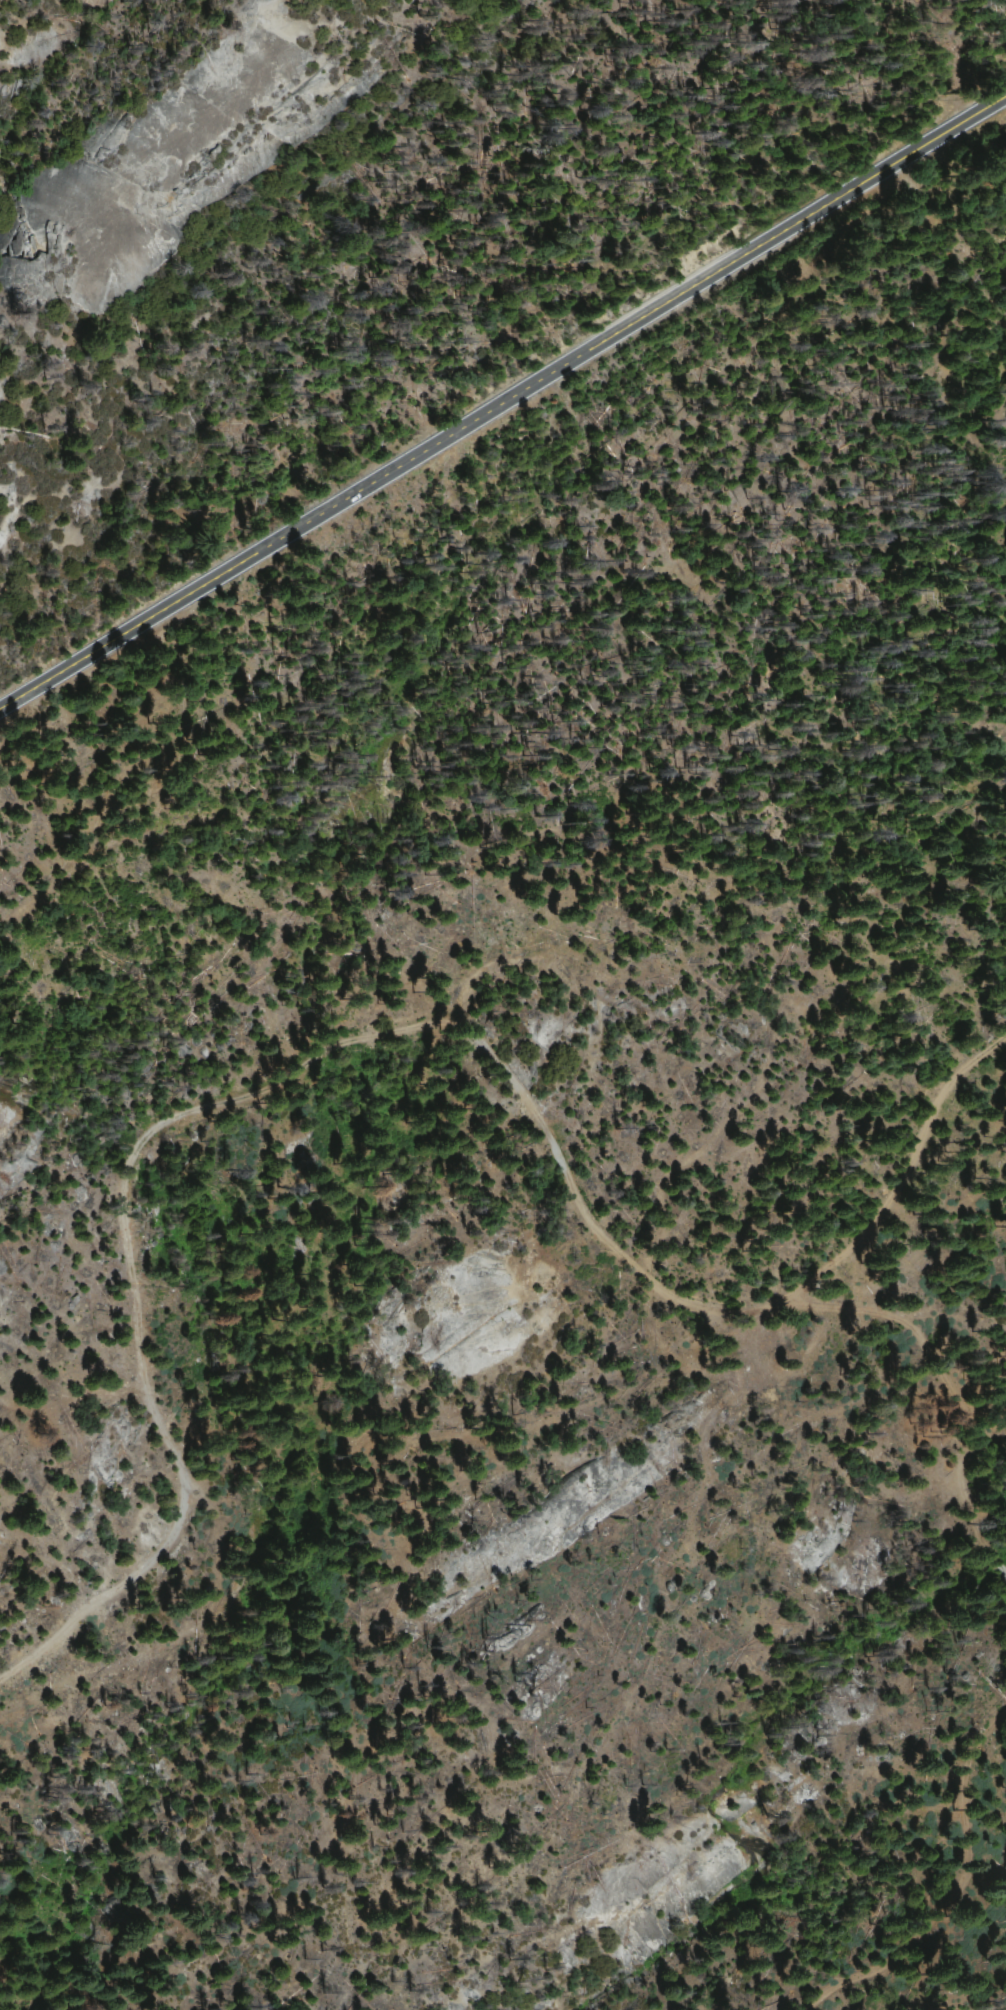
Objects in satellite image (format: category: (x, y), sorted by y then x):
road: (502, 401)
road: (380, 1031)

